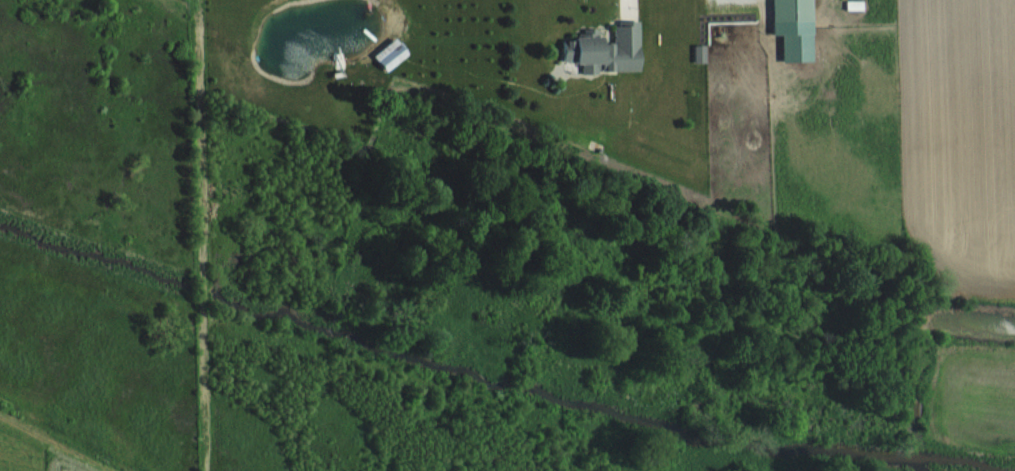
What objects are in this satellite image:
building: (785, 10)
building: (602, 50)

